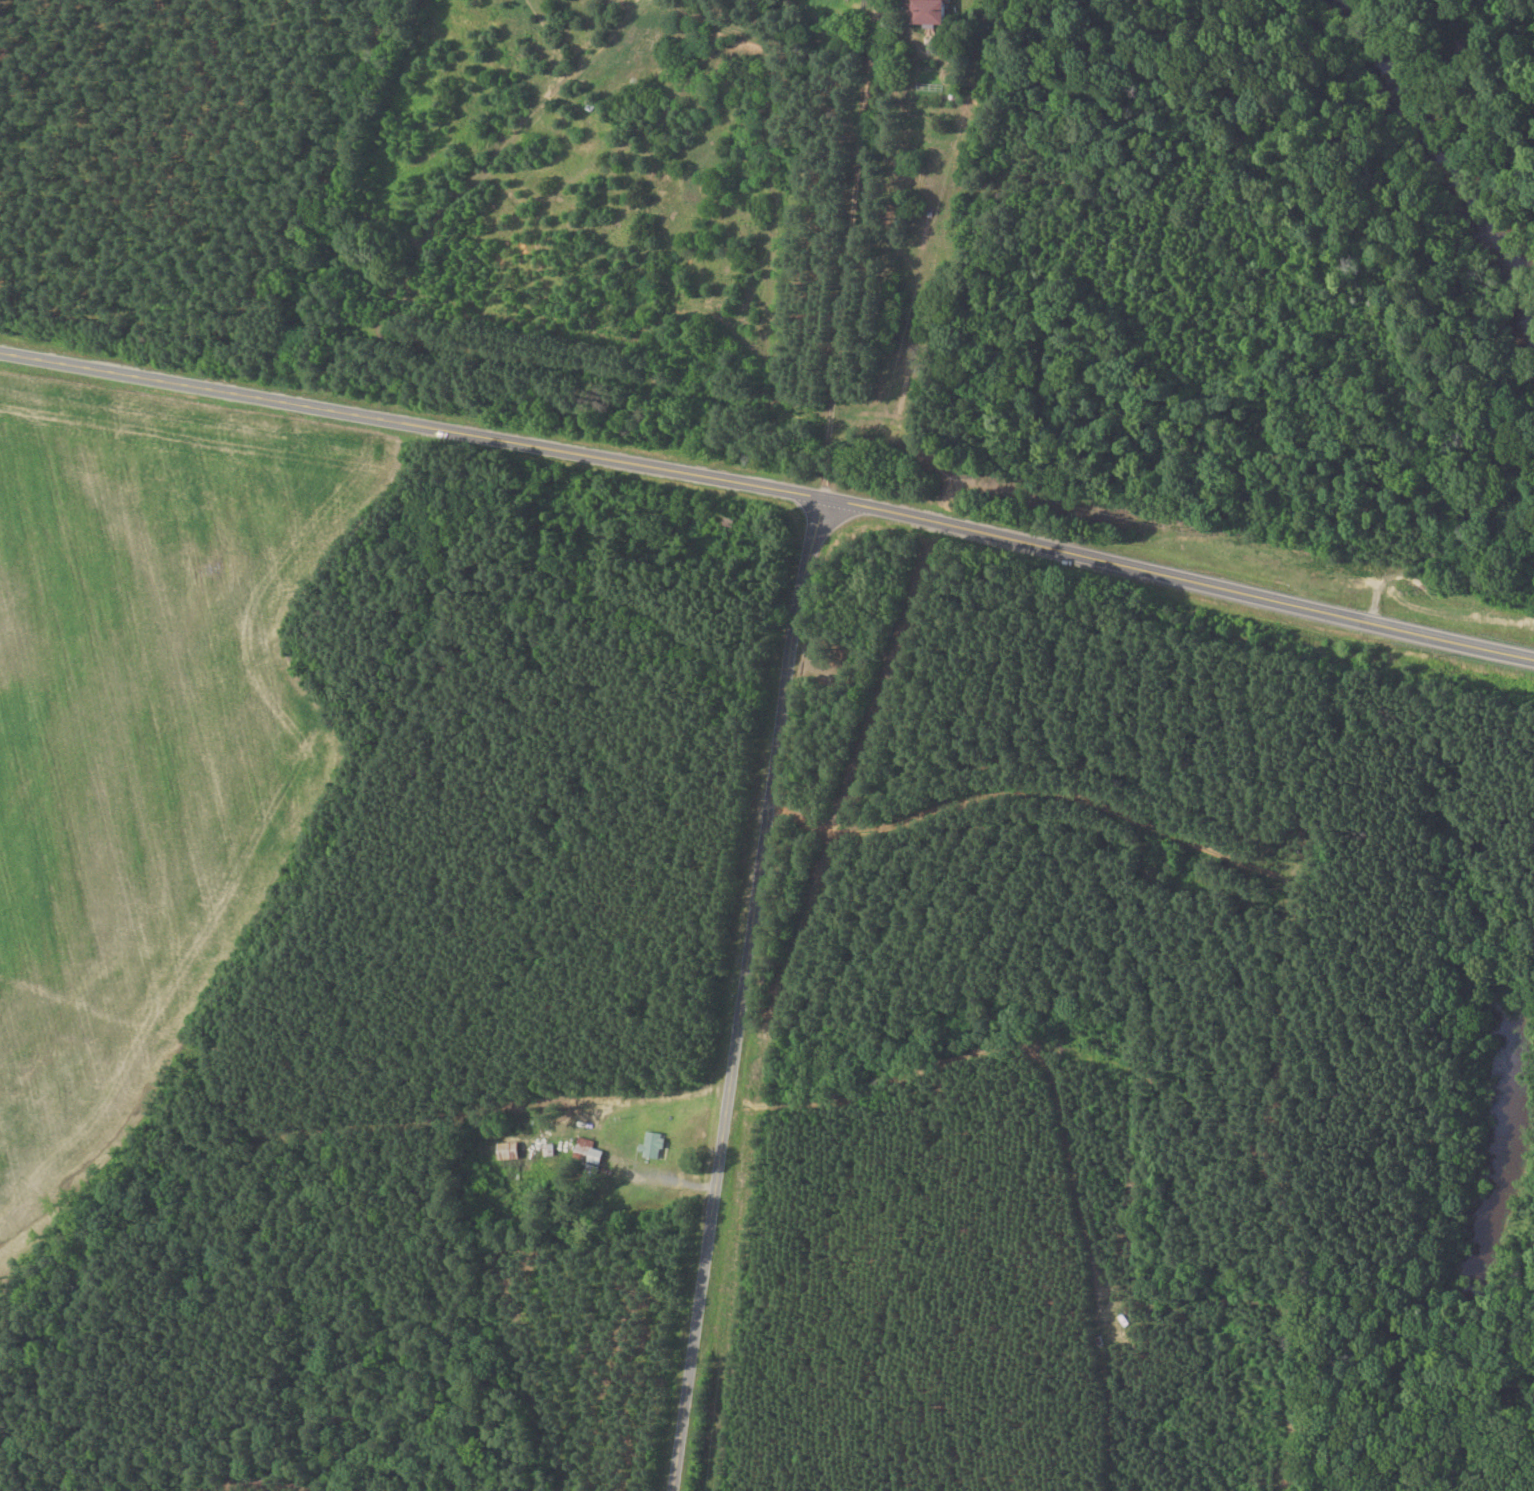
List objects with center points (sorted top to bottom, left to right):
building: (931, 10)
river: (1403, 105)
dam: (1479, 209)
river: (1501, 269)
road: (769, 498)
road: (738, 998)
building: (653, 1143)

